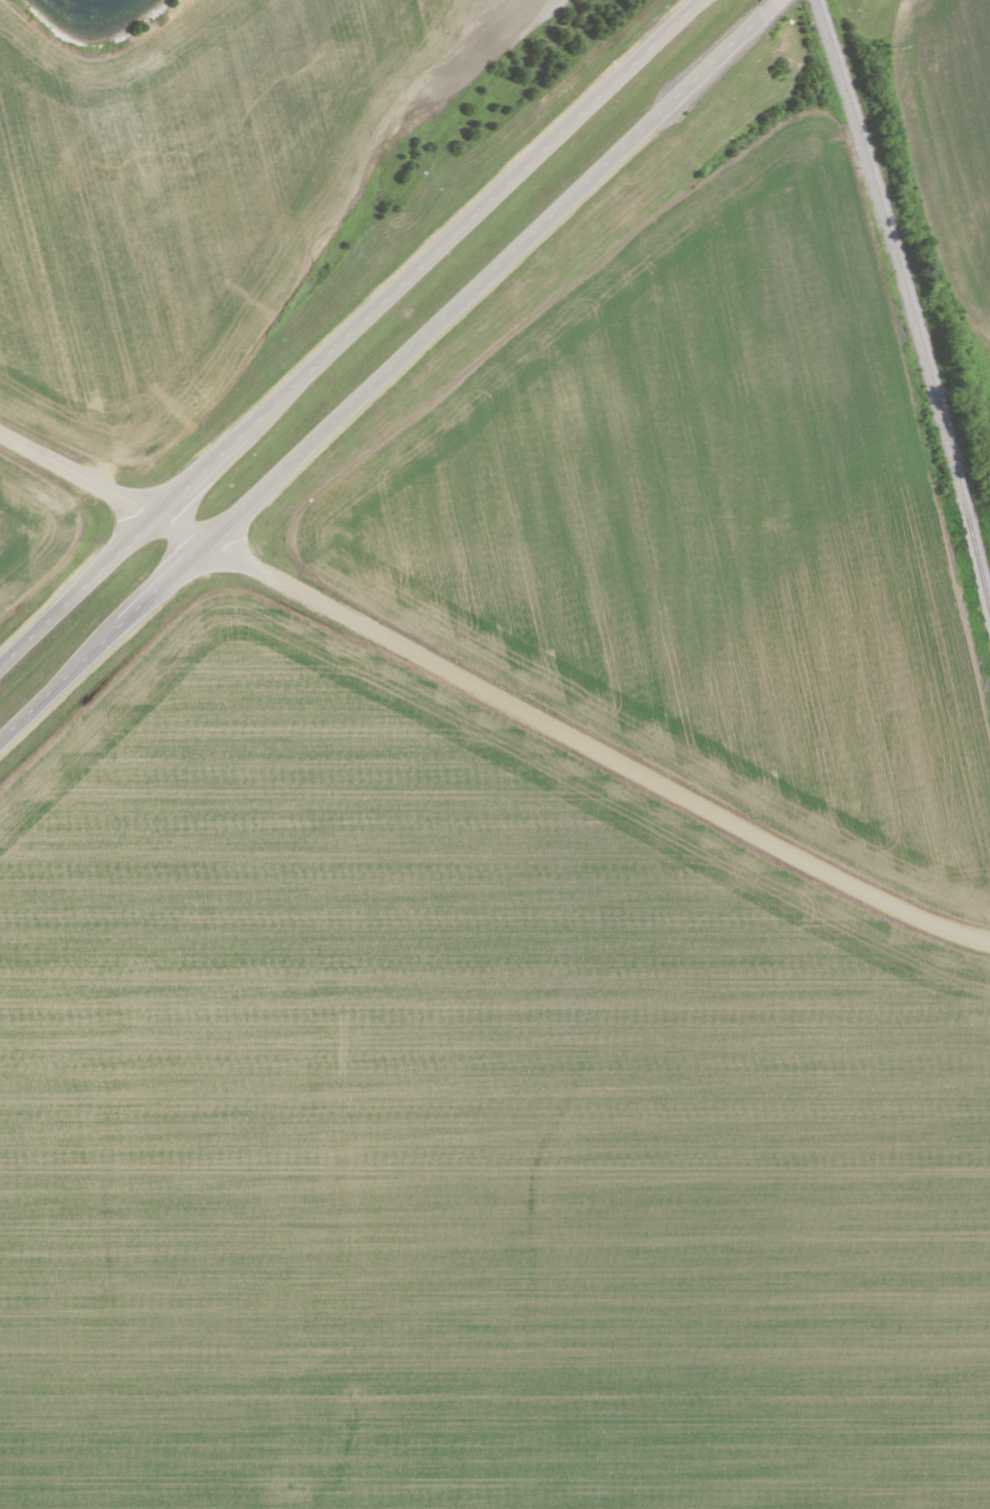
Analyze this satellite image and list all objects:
road: (761, 7)
railway: (913, 318)
road: (344, 330)
road: (375, 375)
road: (492, 695)

